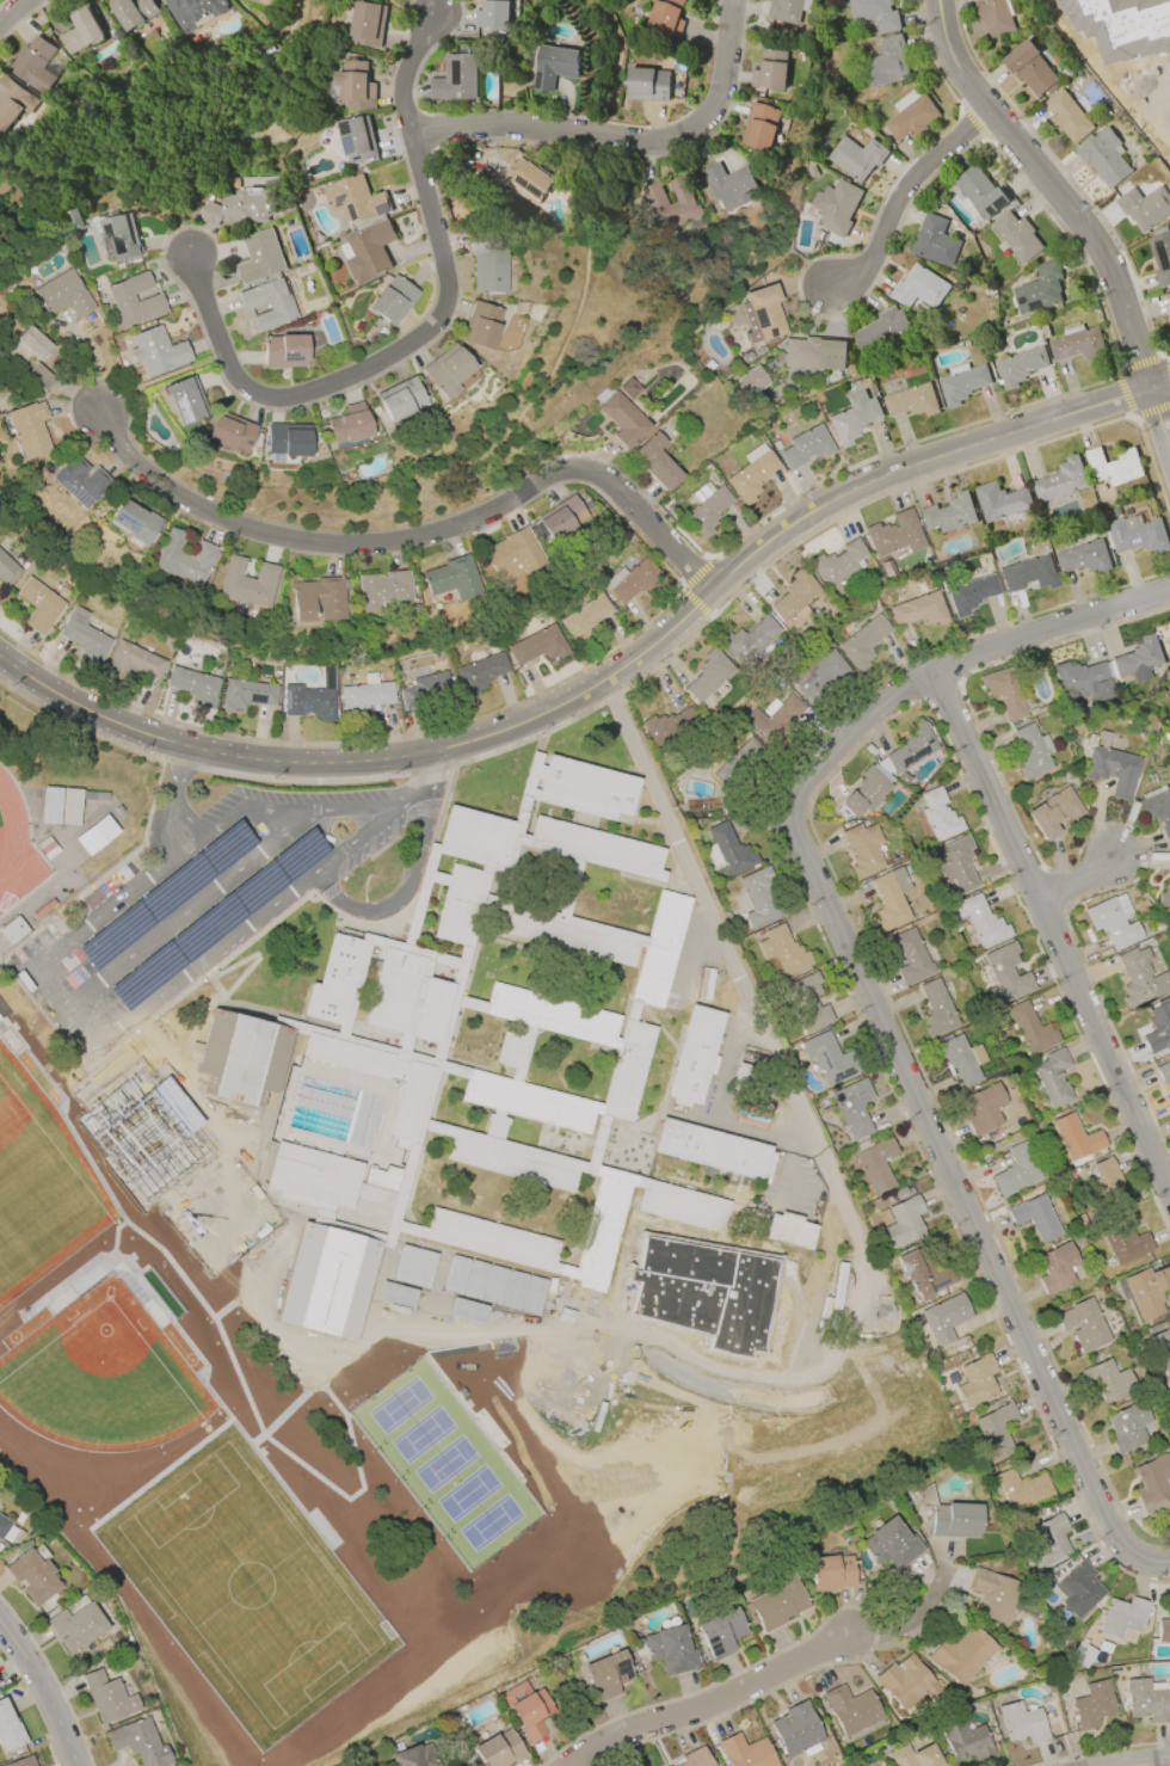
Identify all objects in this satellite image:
building: (787, 10)
building: (192, 11)
road: (17, 12)
building: (133, 12)
building: (874, 13)
building: (491, 14)
building: (665, 16)
building: (993, 17)
building: (365, 23)
building: (80, 31)
building: (32, 63)
building: (885, 63)
building: (553, 66)
road: (406, 68)
building: (1030, 68)
building: (770, 70)
building: (454, 78)
building: (647, 84)
building: (353, 85)
building: (12, 100)
road: (1143, 101)
building: (910, 115)
building: (1067, 116)
building: (759, 125)
road: (1166, 134)
building: (356, 139)
road: (622, 141)
building: (856, 156)
building: (1103, 158)
building: (529, 180)
building: (254, 183)
building: (728, 185)
building: (978, 193)
road: (897, 195)
building: (353, 199)
building: (670, 203)
building: (835, 207)
building: (1144, 207)
building: (240, 208)
road: (1071, 214)
building: (74, 219)
building: (121, 236)
building: (1016, 236)
building: (934, 241)
building: (368, 251)
building: (259, 257)
building: (1160, 258)
building: (486, 266)
building: (918, 288)
building: (1039, 289)
building: (63, 295)
building: (133, 301)
building: (392, 301)
building: (1168, 301)
building: (266, 304)
building: (762, 314)
building: (480, 325)
building: (881, 331)
building: (1076, 344)
building: (29, 345)
building: (284, 350)
building: (156, 351)
building: (813, 353)
road: (369, 364)
building: (1020, 365)
building: (850, 369)
building: (447, 370)
building: (39, 376)
building: (751, 380)
building: (962, 383)
building: (400, 399)
building: (184, 400)
building: (911, 400)
building: (620, 417)
building: (852, 417)
building: (349, 426)
building: (26, 429)
building: (229, 432)
building: (288, 439)
building: (776, 444)
building: (806, 447)
building: (654, 461)
building: (1113, 466)
building: (752, 473)
building: (1060, 479)
building: (78, 481)
building: (999, 500)
building: (704, 507)
building: (949, 513)
building: (559, 517)
building: (134, 521)
building: (1135, 534)
road: (410, 535)
building: (894, 535)
building: (513, 554)
building: (1083, 556)
building: (184, 558)
building: (839, 564)
building: (7, 570)
building: (1028, 574)
building: (451, 578)
building: (632, 582)
building: (247, 583)
building: (381, 589)
building: (794, 595)
building: (969, 595)
building: (318, 598)
building: (39, 604)
building: (919, 610)
building: (585, 615)
building: (85, 638)
building: (749, 639)
building: (862, 642)
building: (537, 645)
building: (1138, 659)
building: (135, 660)
building: (480, 672)
building: (708, 675)
building: (1168, 676)
building: (820, 677)
road: (608, 681)
building: (1083, 681)
building: (193, 685)
building: (424, 690)
building: (1003, 693)
building: (247, 694)
building: (364, 695)
building: (310, 697)
building: (775, 715)
building: (669, 726)
building: (911, 747)
building: (1032, 751)
building: (738, 763)
building: (1109, 765)
road: (426, 771)
road: (177, 776)
road: (158, 781)
building: (1169, 782)
building: (864, 792)
road: (413, 801)
building: (61, 806)
road: (275, 808)
building: (1158, 808)
building: (1053, 812)
building: (938, 814)
road: (378, 829)
road: (321, 833)
building: (96, 835)
road: (156, 835)
track: (14, 847)
road: (270, 848)
building: (727, 850)
building: (862, 850)
road: (340, 857)
building: (955, 863)
road: (233, 878)
road: (1076, 878)
road: (404, 893)
building: (1164, 896)
building: (759, 897)
building: (889, 899)
parking lot: (196, 902)
road: (198, 905)
building: (979, 921)
building: (1113, 921)
building: (12, 929)
road: (161, 934)
road: (1054, 936)
building: (782, 950)
road: (252, 955)
building: (909, 956)
road: (697, 959)
road: (124, 962)
building: (1004, 973)
building: (1139, 977)
road: (88, 990)
road: (874, 1001)
building: (807, 1003)
building: (936, 1009)
road: (269, 1015)
road: (190, 1022)
building: (1158, 1028)
building: (1029, 1029)
building: (245, 1045)
road: (96, 1048)
building: (694, 1053)
building: (829, 1058)
building: (957, 1059)
building: (1163, 1072)
building: (1053, 1077)
building: (1169, 1087)
road: (195, 1093)
building: (852, 1107)
building: (984, 1108)
road: (728, 1126)
building: (1074, 1138)
building: (713, 1149)
road: (815, 1153)
road: (788, 1159)
building: (876, 1164)
building: (1016, 1170)
park: (183, 1171)
building: (1109, 1182)
park: (49, 1202)
building: (1035, 1217)
building: (904, 1223)
building: (789, 1230)
building: (647, 1239)
building: (1123, 1242)
building: (675, 1248)
building: (694, 1254)
building: (713, 1259)
building: (1057, 1268)
building: (922, 1273)
road: (473, 1285)
building: (645, 1285)
building: (664, 1291)
building: (1146, 1291)
building: (683, 1296)
building: (815, 1300)
building: (703, 1302)
road: (869, 1306)
building: (944, 1318)
road: (467, 1319)
building: (1083, 1325)
building: (1162, 1349)
road: (306, 1356)
park: (359, 1380)
building: (975, 1380)
building: (1108, 1380)
park: (382, 1409)
park: (537, 1419)
building: (1127, 1427)
building: (997, 1429)
park: (407, 1440)
building: (1152, 1485)
park: (198, 1488)
building: (1021, 1489)
building: (955, 1520)
building: (6, 1530)
building: (1048, 1540)
building: (891, 1544)
building: (831, 1573)
building: (31, 1576)
building: (1078, 1588)
building: (992, 1594)
building: (776, 1604)
road: (912, 1616)
building: (1122, 1617)
building: (75, 1626)
building: (1163, 1631)
building: (720, 1632)
building: (670, 1650)
building: (961, 1654)
building: (1082, 1655)
building: (606, 1674)
building: (906, 1682)
road: (47, 1687)
building: (107, 1697)
building: (1147, 1700)
road: (709, 1704)
building: (1091, 1704)
building: (851, 1709)
building: (526, 1710)
building: (1022, 1722)
building: (8, 1729)
building: (796, 1731)
building: (137, 1742)
building: (967, 1742)
building: (497, 1749)
building: (746, 1752)
building: (412, 1756)
building: (913, 1756)
building: (695, 1758)
building: (21, 1762)
building: (671, 1765)
road: (1165, 1765)

